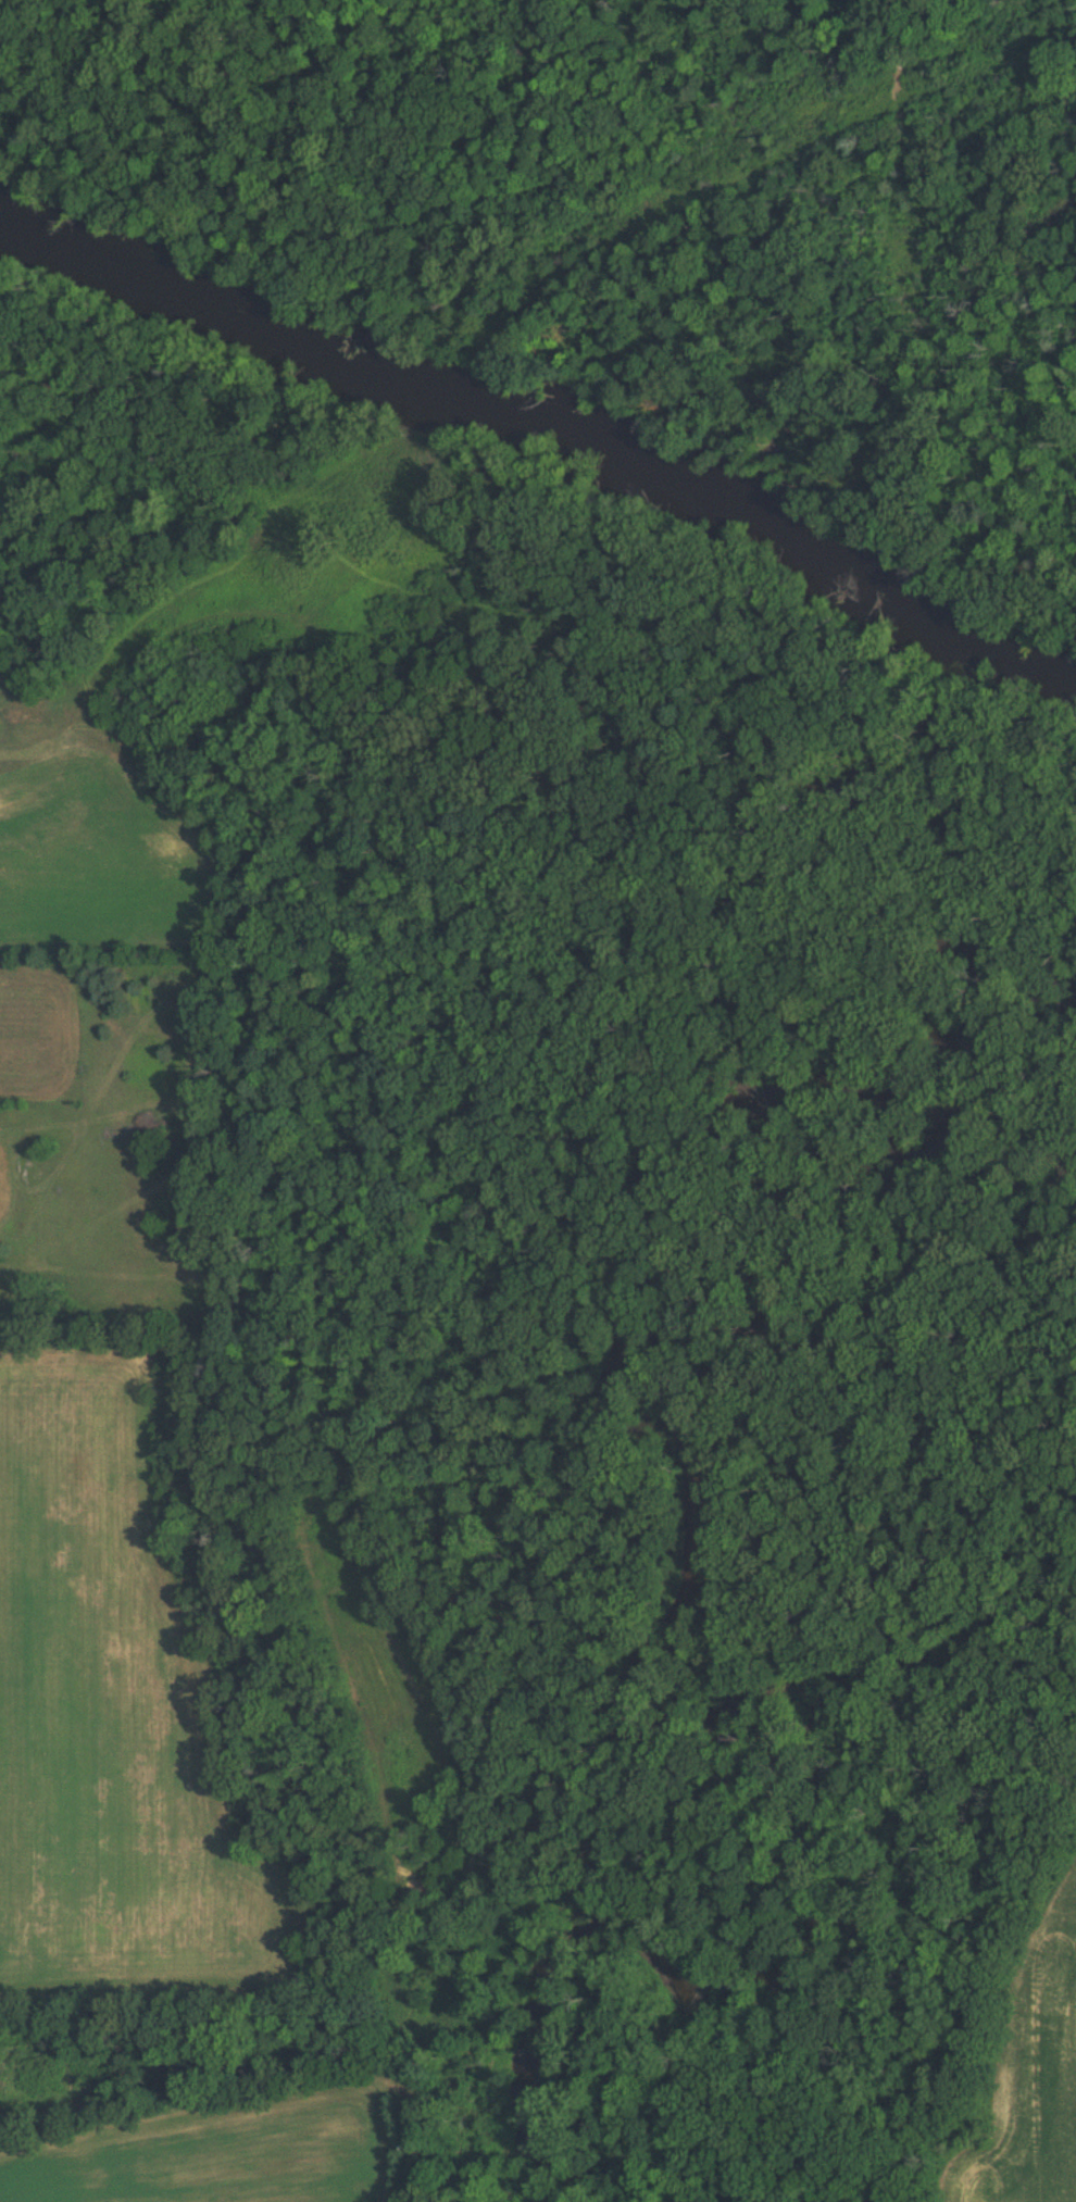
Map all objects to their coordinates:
river: (551, 421)

